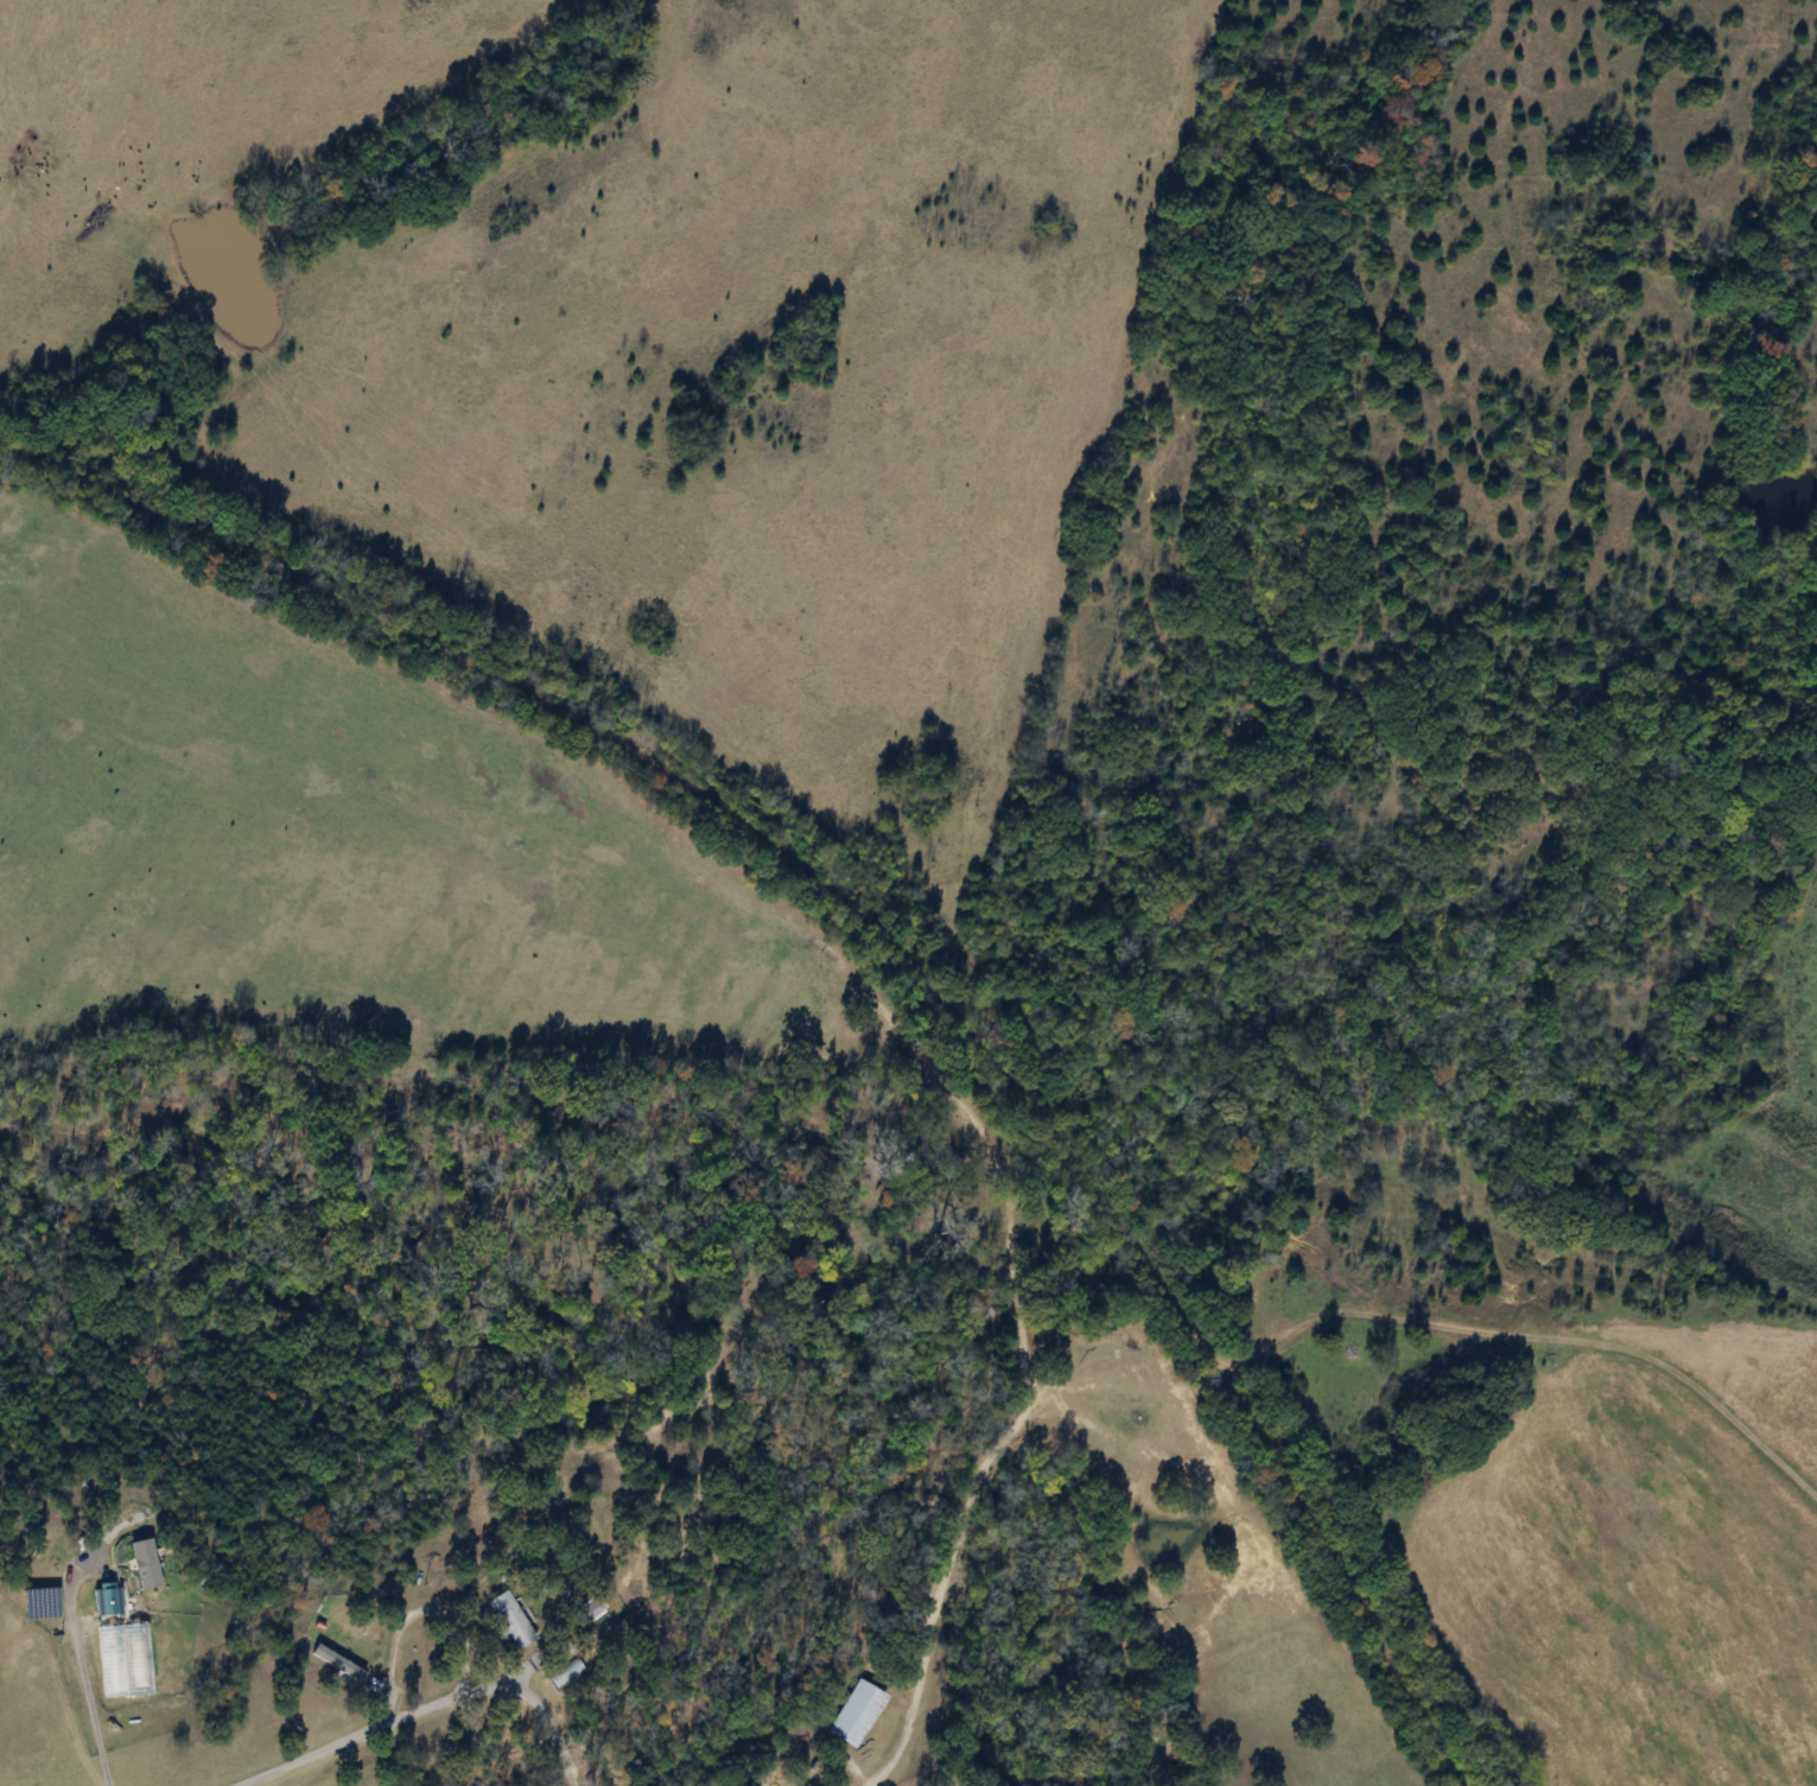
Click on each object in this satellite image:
railway: (897, 922)
road: (471, 1614)
building: (510, 1619)
road: (78, 1645)
building: (857, 1711)
road: (548, 1715)
road: (317, 1752)

